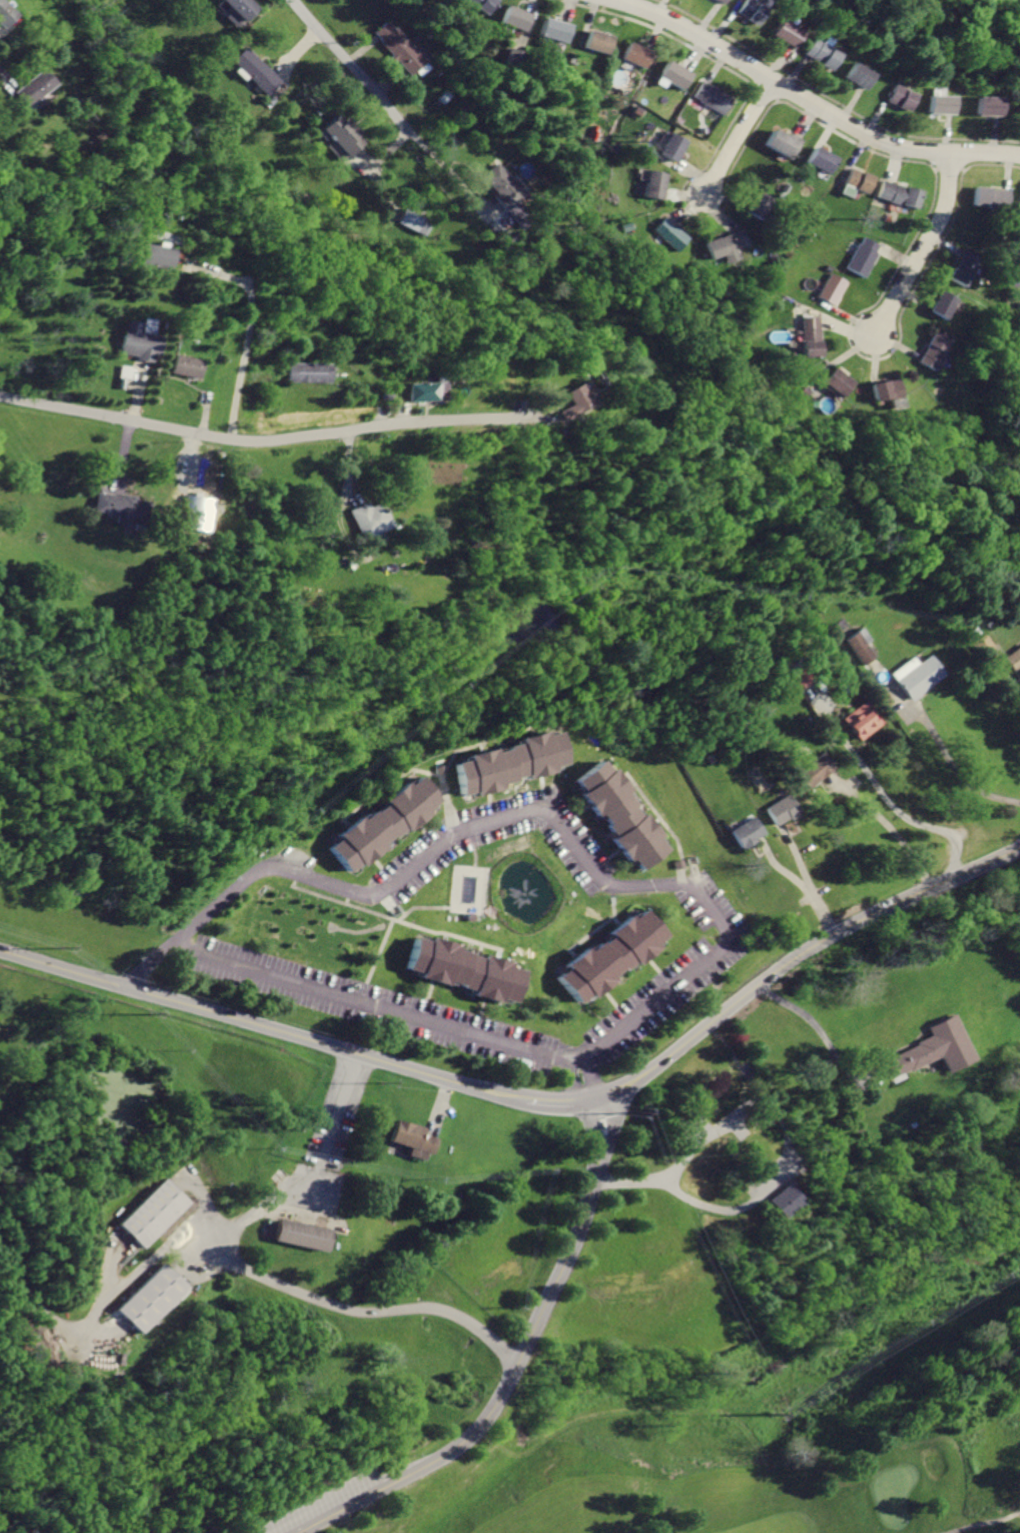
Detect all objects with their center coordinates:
building: (713, 1)
building: (483, 5)
building: (241, 10)
building: (744, 10)
building: (5, 13)
building: (515, 17)
building: (555, 28)
building: (781, 32)
building: (598, 41)
building: (404, 48)
building: (818, 53)
building: (635, 54)
building: (257, 71)
building: (675, 74)
building: (854, 75)
road: (361, 76)
building: (35, 87)
building: (713, 97)
building: (897, 97)
road: (809, 101)
building: (936, 103)
building: (982, 103)
building: (1016, 108)
building: (345, 136)
road: (740, 137)
building: (785, 142)
building: (675, 146)
building: (821, 159)
building: (858, 179)
building: (656, 183)
building: (502, 184)
building: (899, 193)
building: (989, 196)
building: (761, 203)
building: (1018, 208)
building: (519, 213)
building: (1019, 215)
building: (415, 219)
building: (672, 233)
building: (729, 244)
road: (926, 247)
building: (154, 256)
building: (865, 256)
building: (964, 267)
building: (832, 288)
building: (943, 304)
road: (247, 323)
building: (148, 324)
building: (811, 336)
building: (137, 340)
building: (933, 348)
building: (186, 364)
building: (124, 370)
building: (307, 371)
building: (840, 381)
building: (887, 388)
building: (419, 389)
building: (572, 401)
road: (262, 441)
building: (124, 504)
building: (370, 519)
building: (856, 645)
building: (1012, 657)
building: (914, 674)
building: (800, 676)
road: (1015, 690)
building: (861, 719)
road: (951, 758)
building: (508, 761)
building: (814, 769)
road: (886, 799)
building: (781, 809)
building: (618, 811)
building: (382, 821)
road: (890, 829)
building: (747, 831)
road: (804, 882)
fountain: (527, 892)
road: (700, 892)
building: (610, 953)
road: (799, 960)
building: (463, 968)
park: (47, 1009)
road: (263, 1017)
road: (817, 1028)
building: (931, 1049)
road: (587, 1077)
road: (568, 1080)
road: (560, 1101)
road: (438, 1106)
building: (414, 1136)
road: (791, 1168)
road: (317, 1174)
building: (787, 1200)
building: (157, 1215)
building: (303, 1234)
building: (152, 1299)
road: (46, 1309)
road: (362, 1309)
road: (512, 1368)
park: (622, 1449)
park: (893, 1484)
parking lot: (325, 1506)
road: (982, 1522)

